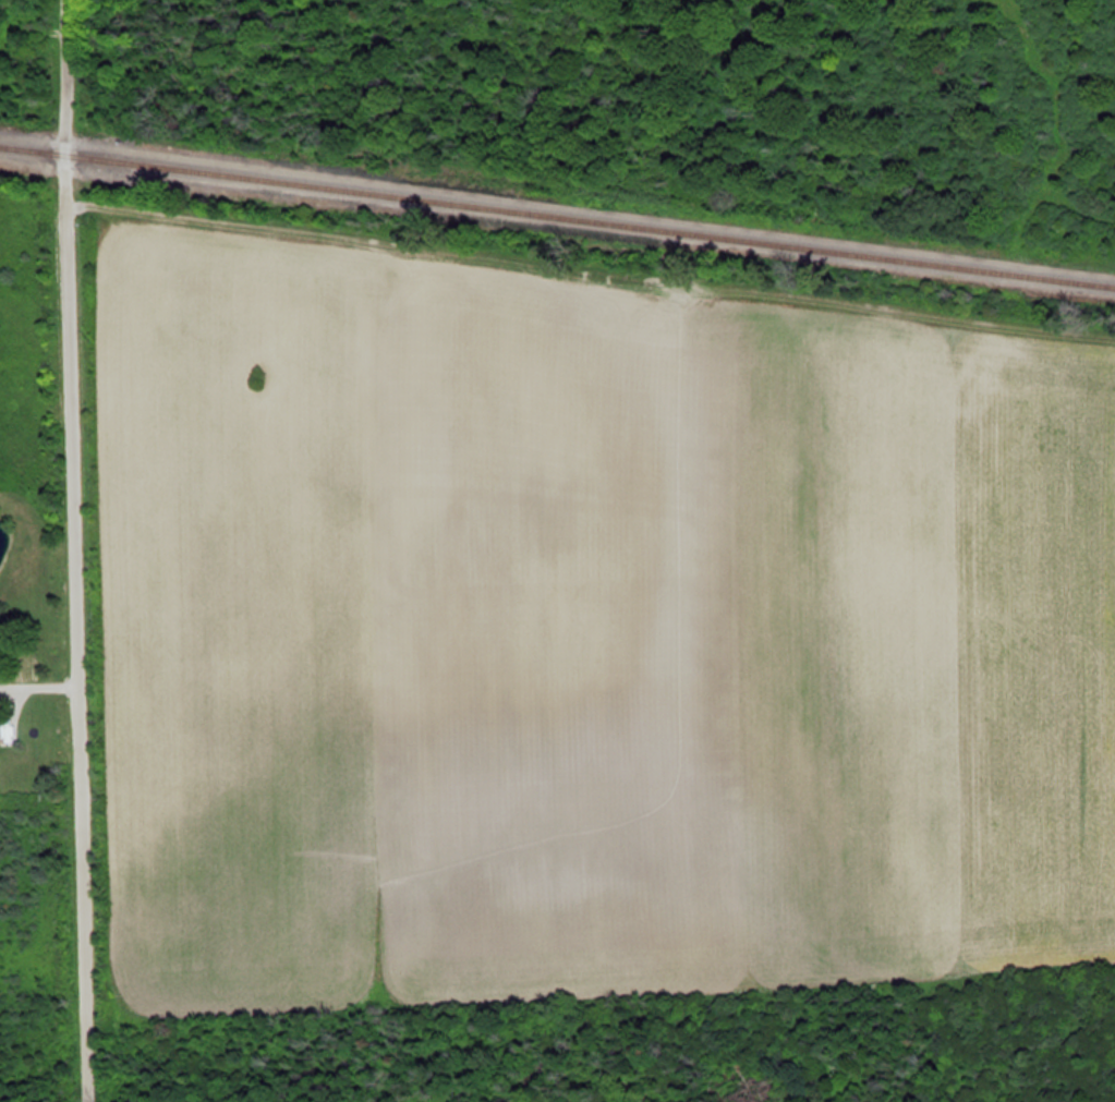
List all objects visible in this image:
railway: (557, 205)
road: (78, 550)
building: (1, 725)

